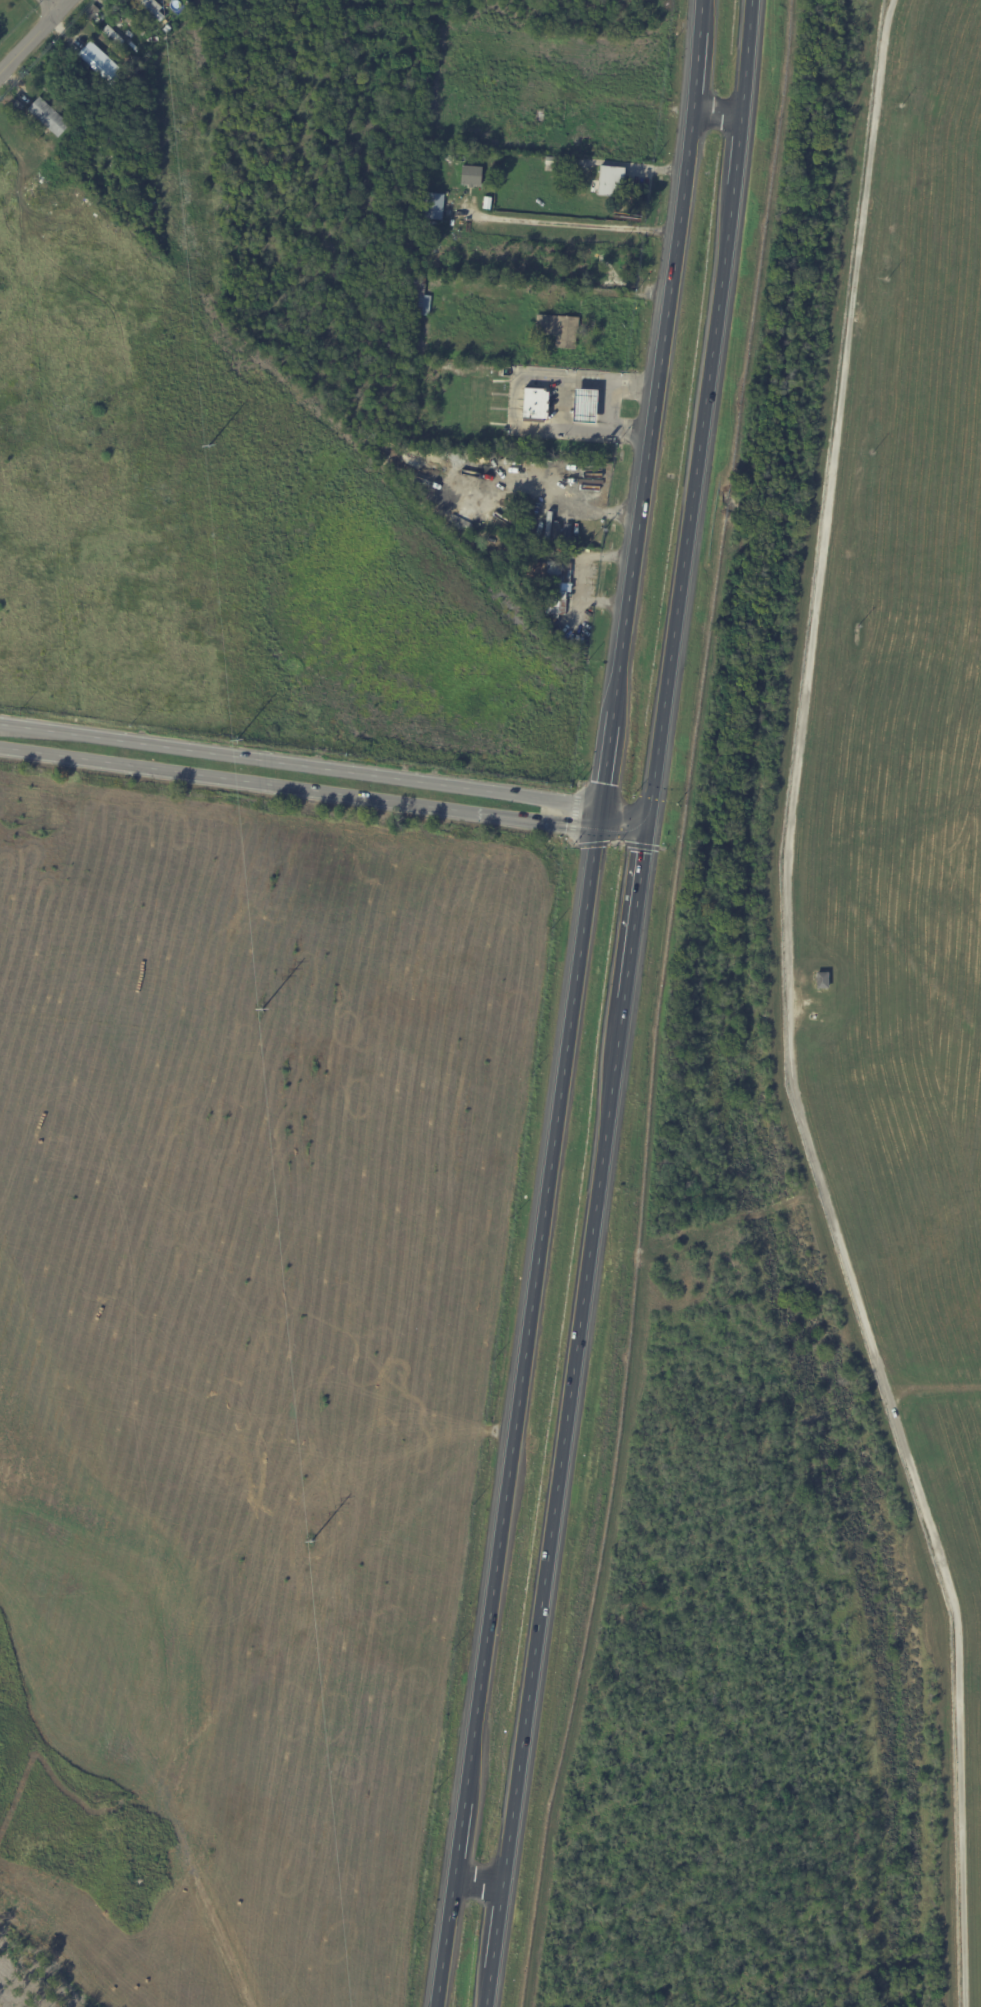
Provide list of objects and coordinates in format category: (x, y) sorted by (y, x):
building: (140, 0)
road: (45, 3)
building: (156, 8)
building: (94, 12)
building: (137, 28)
road: (27, 31)
building: (112, 35)
building: (99, 62)
building: (13, 103)
road: (715, 112)
building: (46, 114)
building: (554, 160)
building: (470, 174)
building: (609, 179)
building: (486, 201)
building: (431, 204)
road: (571, 220)
building: (419, 296)
building: (557, 328)
road: (516, 397)
road: (655, 402)
building: (536, 403)
building: (584, 404)
road: (702, 418)
building: (559, 538)
building: (554, 582)
road: (299, 762)
road: (238, 780)
traffic signals: (601, 782)
road: (624, 808)
road: (535, 821)
traffic signals: (565, 825)
airport: (903, 829)
road: (621, 832)
traffic signals: (646, 852)
road: (637, 915)
building: (821, 978)
road: (517, 1405)
road: (556, 1500)
road: (479, 1880)

